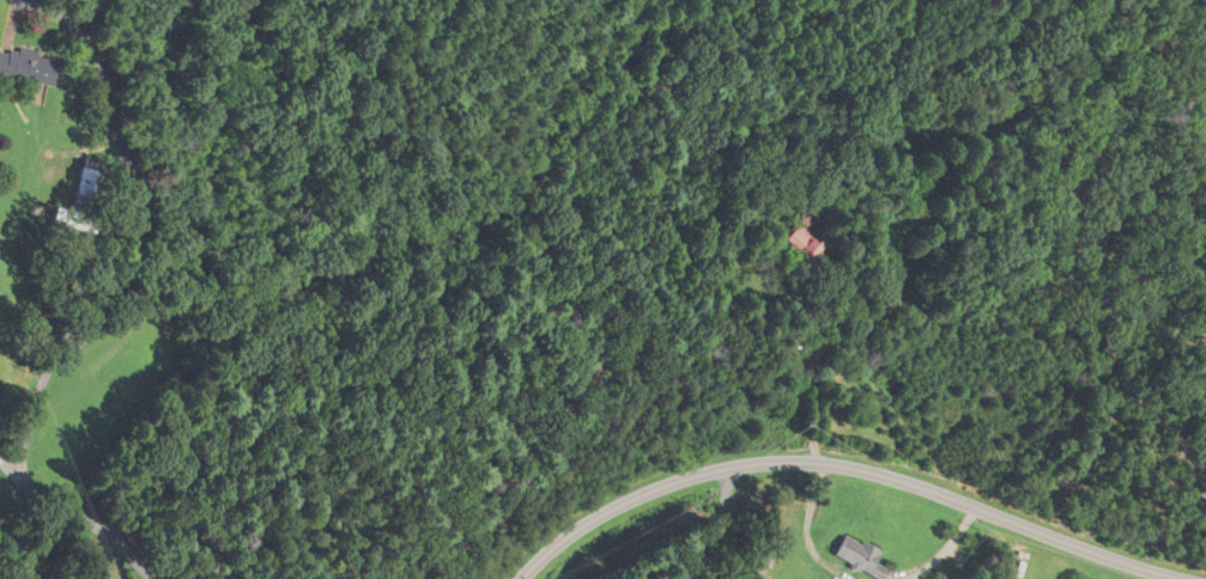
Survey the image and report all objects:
road: (18, 23)
building: (26, 66)
building: (81, 199)
road: (143, 239)
building: (801, 248)
road: (6, 463)
road: (843, 468)
road: (87, 523)
building: (855, 557)

